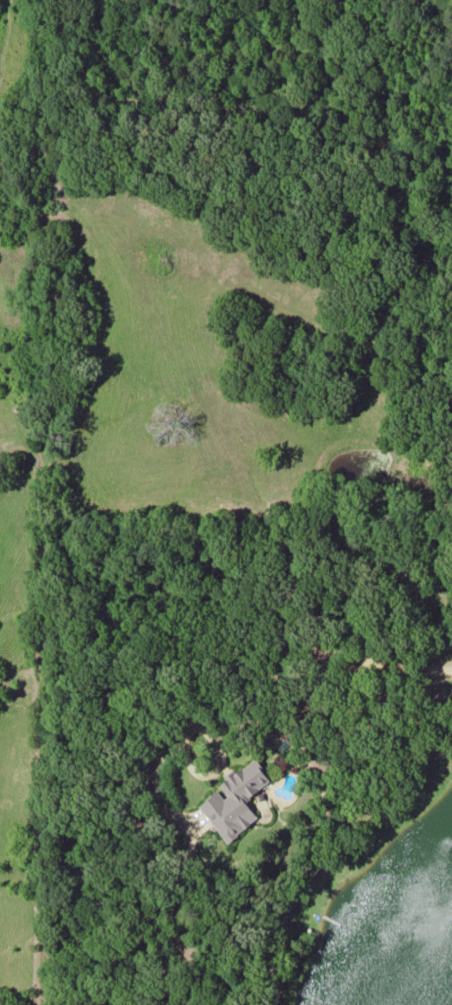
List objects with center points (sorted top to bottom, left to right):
road: (444, 669)
building: (236, 799)

